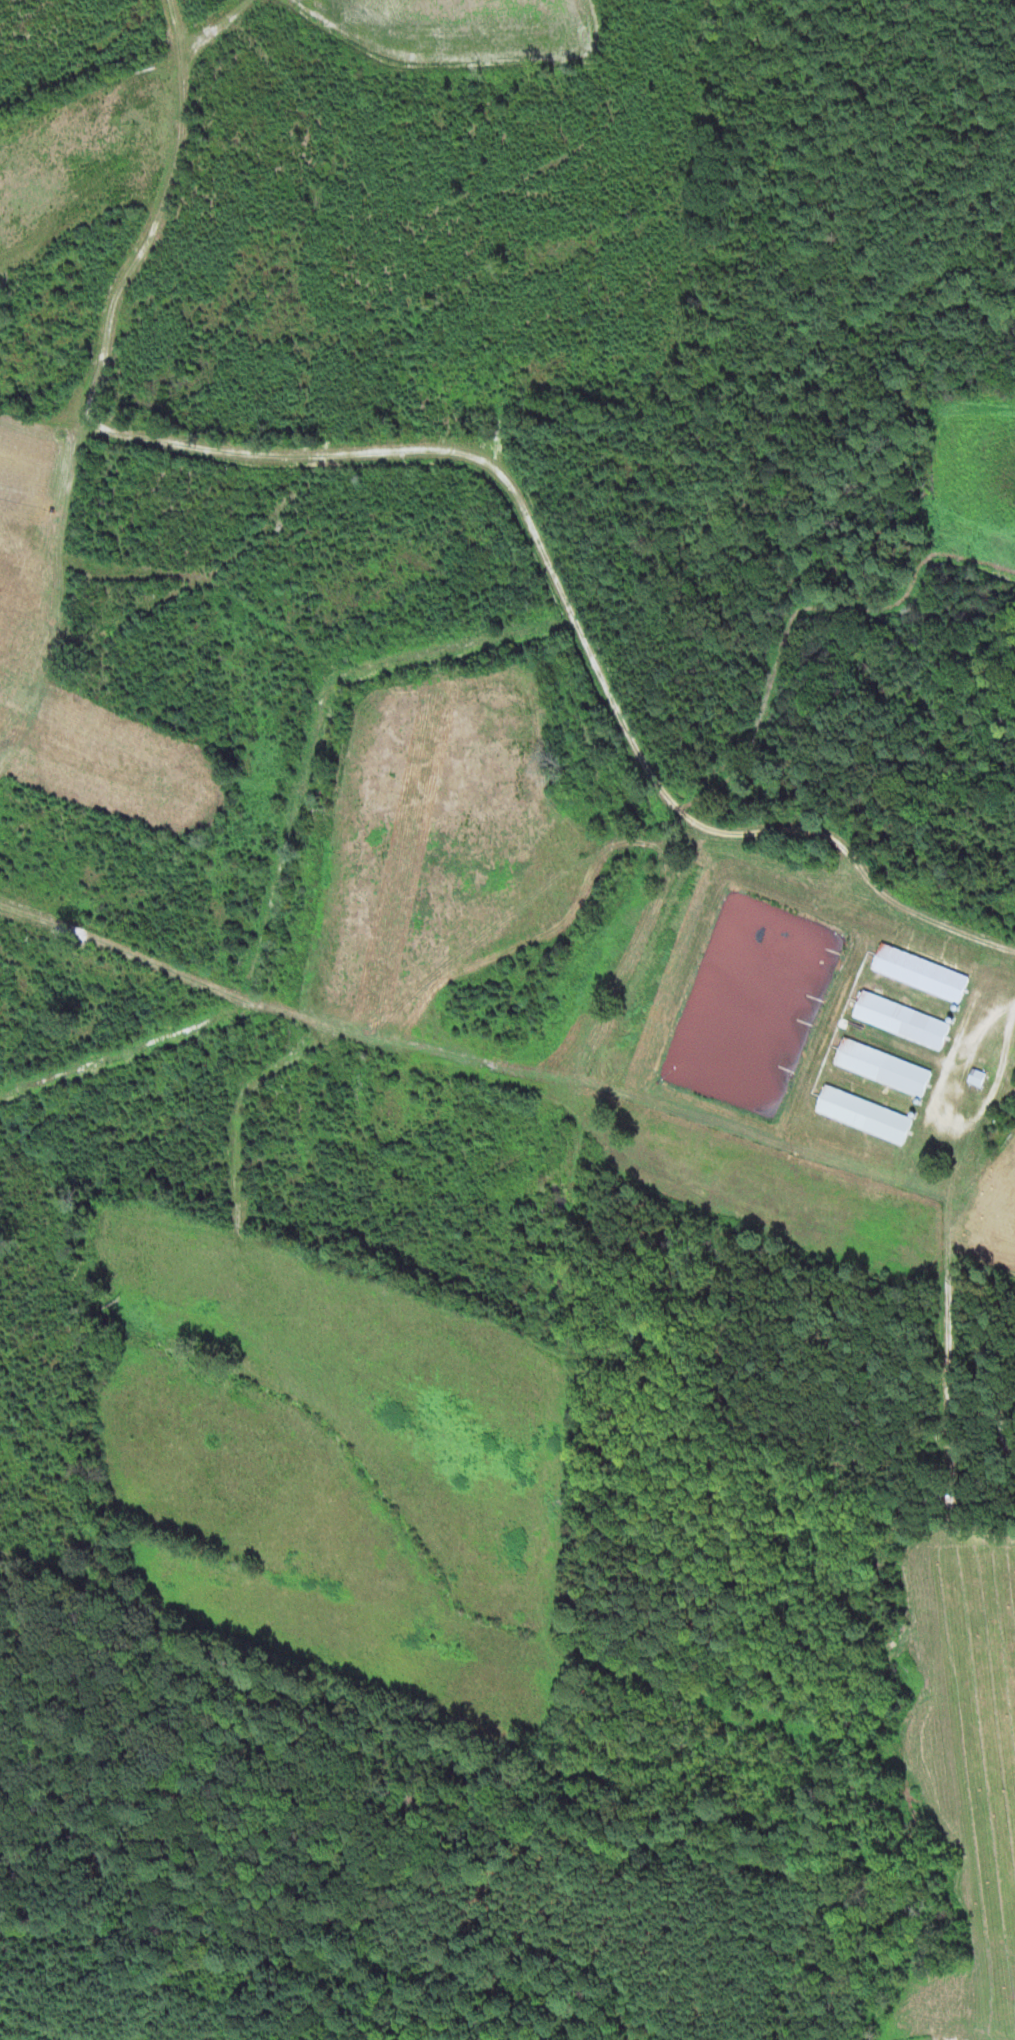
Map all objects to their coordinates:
road: (866, 917)
building: (925, 973)
building: (905, 1020)
building: (887, 1068)
building: (979, 1078)
building: (868, 1115)

